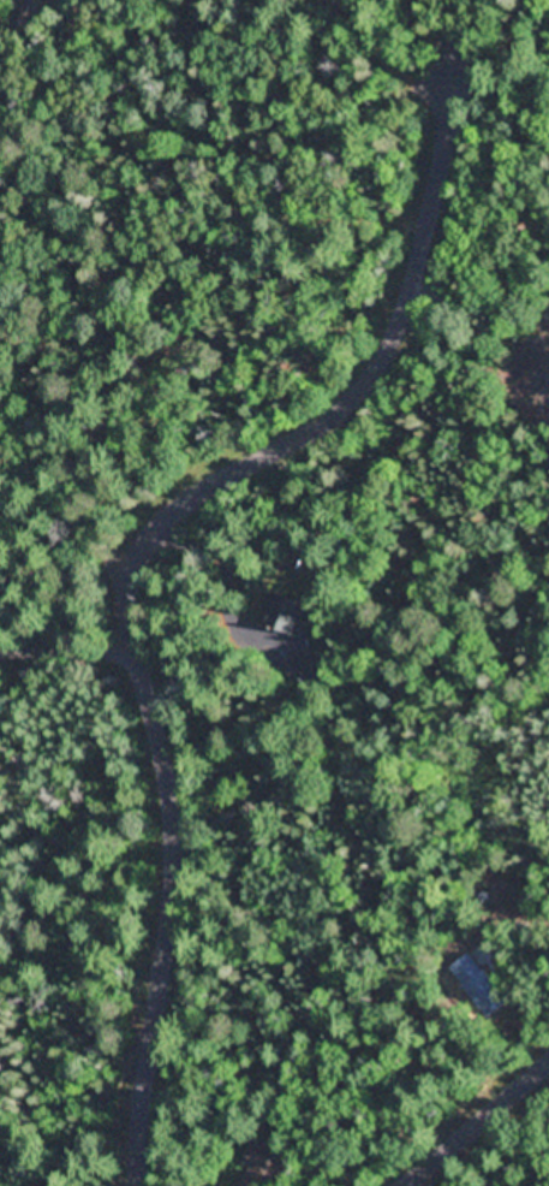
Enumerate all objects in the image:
road: (50, 87)
road: (67, 486)
road: (138, 529)
road: (74, 657)
road: (471, 1121)
building: (271, 1158)

